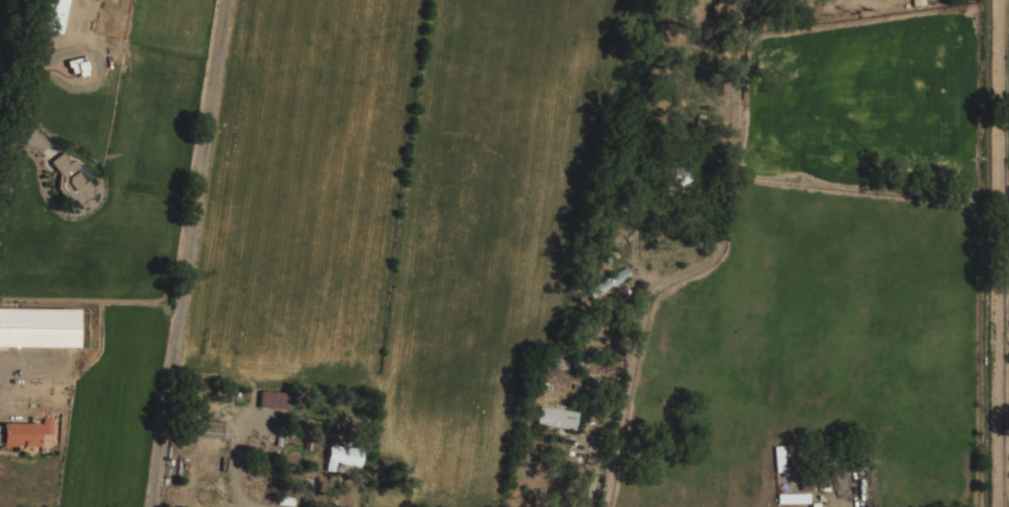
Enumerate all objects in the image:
building: (54, 15)
crop: (1008, 89)
building: (682, 176)
building: (71, 180)
building: (1008, 191)
crop: (320, 226)
road: (187, 253)
road: (714, 253)
road: (998, 253)
building: (609, 282)
building: (39, 327)
building: (271, 399)
building: (557, 417)
building: (207, 428)
building: (20, 434)
building: (343, 456)
building: (779, 460)
road: (595, 471)
building: (794, 498)

